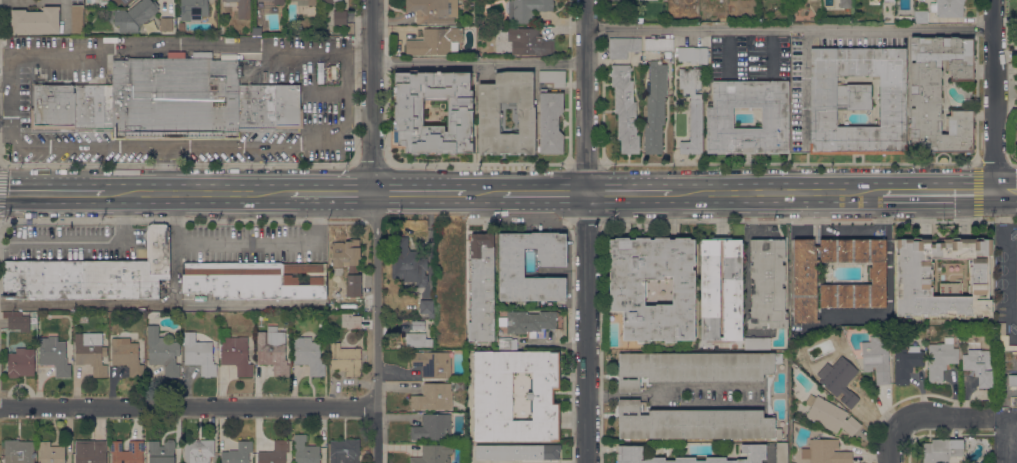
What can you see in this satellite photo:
building: (892, 0)
building: (329, 1)
building: (121, 2)
building: (279, 2)
building: (306, 2)
building: (846, 3)
building: (947, 8)
building: (193, 9)
building: (242, 9)
building: (526, 9)
building: (433, 10)
building: (134, 15)
building: (339, 16)
building: (920, 16)
building: (77, 19)
building: (35, 21)
building: (166, 24)
building: (180, 26)
road: (789, 28)
building: (257, 31)
building: (435, 42)
building: (528, 42)
building: (658, 44)
road: (229, 45)
building: (622, 46)
road: (358, 53)
road: (4, 55)
building: (692, 55)
road: (477, 62)
building: (552, 77)
road: (806, 83)
building: (939, 94)
road: (372, 96)
road: (993, 96)
parking lot: (181, 97)
building: (857, 100)
building: (168, 102)
building: (655, 107)
building: (624, 108)
building: (692, 109)
building: (488, 111)
building: (408, 114)
building: (719, 117)
building: (550, 122)
road: (47, 145)
road: (240, 145)
road: (788, 162)
road: (479, 163)
road: (178, 164)
road: (372, 164)
road: (584, 164)
road: (167, 169)
road: (51, 192)
road: (196, 192)
road: (330, 192)
road: (1005, 192)
road: (418, 193)
road: (628, 193)
road: (776, 193)
road: (938, 193)
road: (483, 194)
road: (543, 194)
road: (122, 216)
road: (182, 219)
road: (585, 231)
road: (60, 241)
parking lot: (79, 241)
road: (272, 243)
building: (409, 262)
building: (511, 270)
building: (353, 271)
road: (557, 272)
building: (90, 274)
building: (913, 274)
building: (254, 280)
building: (804, 282)
building: (767, 284)
building: (481, 288)
building: (732, 288)
building: (626, 291)
road: (138, 302)
road: (239, 302)
building: (427, 307)
building: (187, 319)
building: (17, 321)
building: (353, 322)
building: (530, 322)
building: (418, 325)
road: (376, 327)
building: (289, 333)
building: (417, 339)
building: (505, 342)
building: (757, 343)
road: (551, 344)
building: (273, 350)
building: (91, 352)
building: (163, 352)
building: (199, 354)
building: (236, 354)
building: (55, 355)
building: (127, 355)
building: (308, 355)
building: (876, 358)
building: (940, 358)
building: (345, 359)
building: (905, 359)
building: (20, 362)
building: (433, 363)
building: (979, 365)
building: (693, 367)
building: (839, 380)
building: (1012, 381)
building: (460, 386)
road: (672, 388)
building: (432, 396)
building: (492, 397)
road: (701, 404)
road: (188, 405)
building: (461, 407)
building: (830, 415)
road: (939, 417)
building: (694, 423)
building: (432, 428)
road: (1014, 441)
road: (893, 444)
building: (305, 450)
building: (18, 451)
building: (90, 451)
building: (198, 451)
building: (344, 451)
building: (517, 451)
building: (943, 451)
building: (127, 452)
building: (161, 452)
building: (827, 452)
building: (51, 453)
building: (237, 453)
building: (275, 453)
building: (781, 453)
building: (433, 454)
building: (630, 454)
road: (769, 455)
building: (215, 461)

